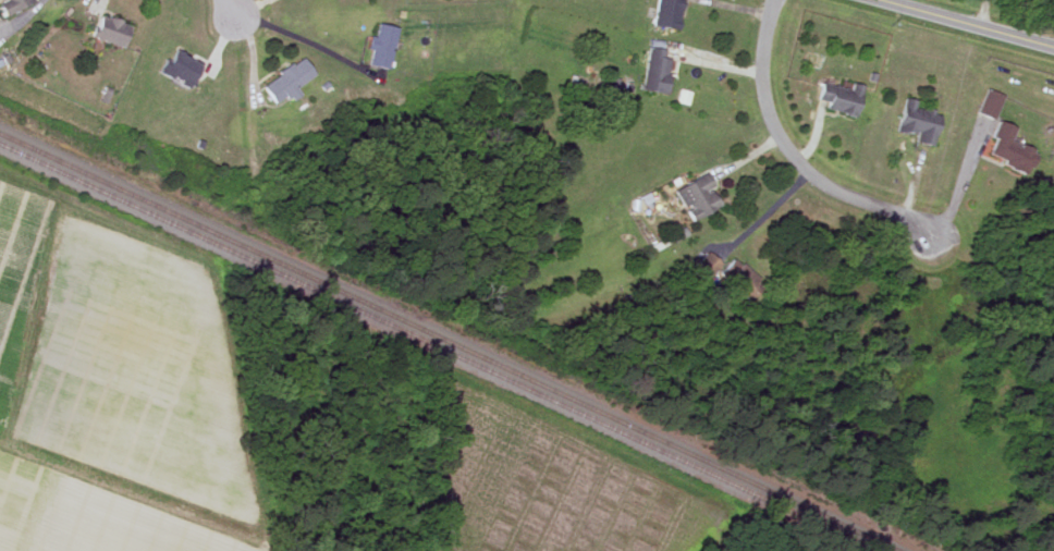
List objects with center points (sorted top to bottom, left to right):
building: (12, 5)
road: (230, 5)
road: (250, 5)
road: (32, 10)
building: (665, 13)
road: (964, 23)
building: (109, 30)
road: (296, 37)
building: (380, 46)
building: (180, 66)
building: (655, 71)
building: (286, 81)
building: (838, 98)
building: (989, 103)
building: (917, 121)
building: (1006, 149)
road: (790, 156)
road: (959, 188)
building: (696, 197)
road: (765, 212)
building: (706, 267)
railway: (449, 342)
railway: (434, 348)

